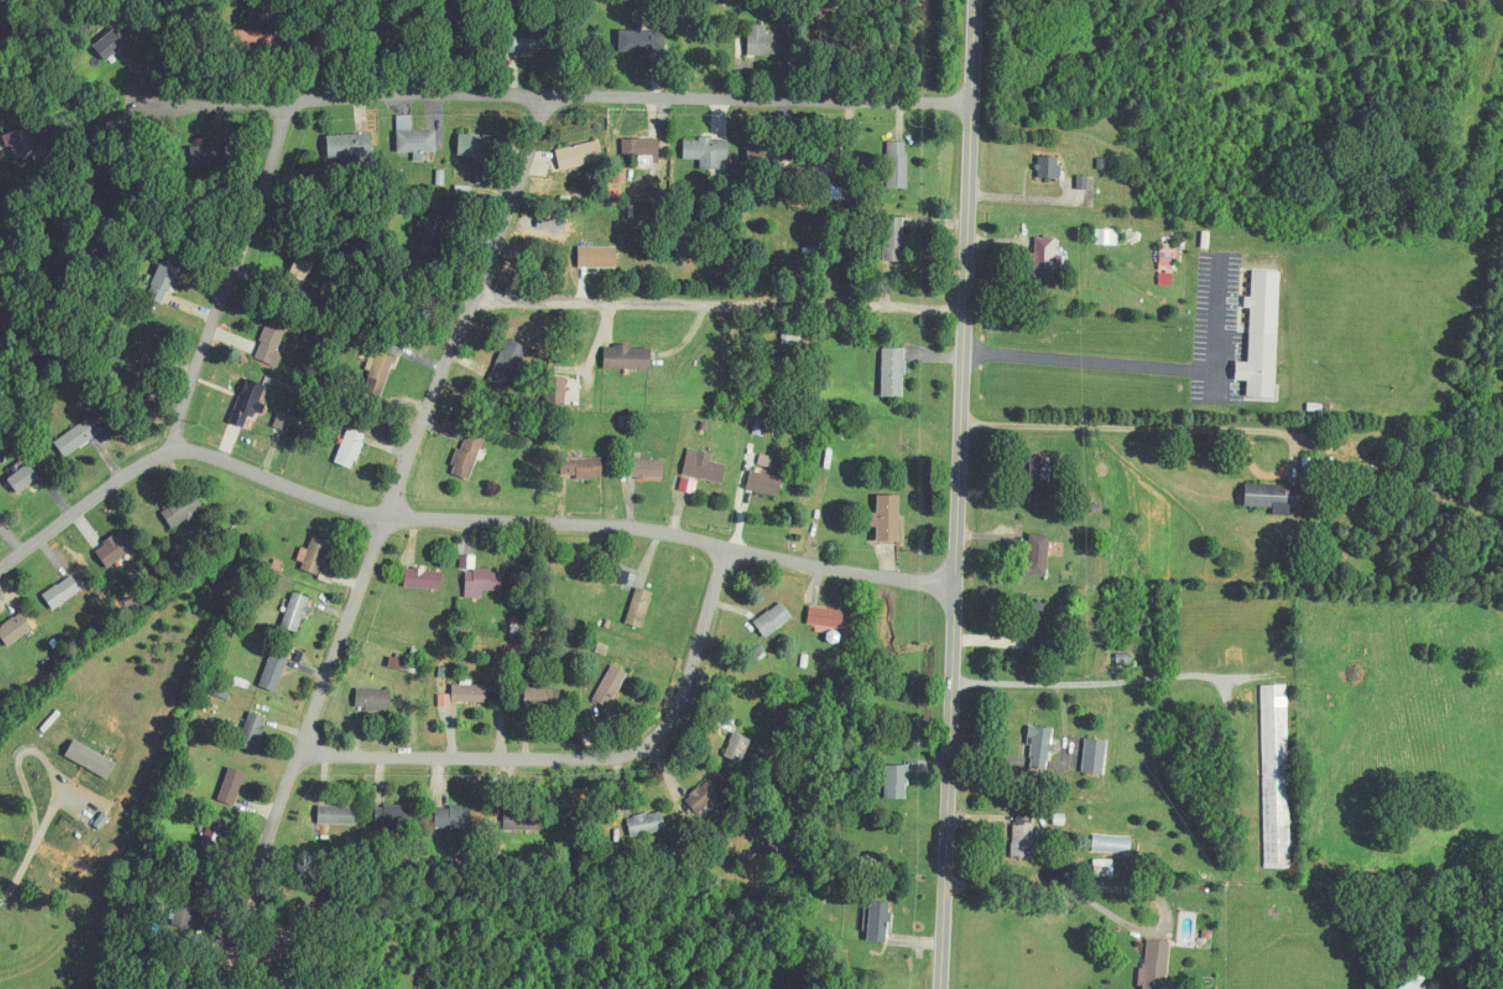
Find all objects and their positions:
building: (532, 38)
building: (642, 41)
building: (765, 41)
road: (556, 92)
road: (104, 128)
building: (417, 141)
building: (20, 143)
building: (351, 147)
building: (642, 150)
building: (707, 152)
building: (209, 154)
building: (483, 154)
building: (580, 155)
building: (897, 164)
building: (1049, 166)
building: (827, 171)
building: (620, 175)
building: (1106, 236)
building: (895, 239)
building: (597, 256)
building: (1047, 256)
building: (1169, 256)
building: (1166, 278)
building: (163, 282)
road: (718, 302)
road: (215, 322)
building: (1262, 336)
building: (273, 342)
building: (627, 357)
building: (507, 361)
road: (1141, 368)
building: (893, 372)
building: (380, 373)
building: (249, 403)
building: (284, 421)
building: (761, 426)
road: (1143, 426)
building: (76, 438)
building: (351, 448)
building: (467, 457)
building: (765, 461)
building: (704, 466)
building: (586, 467)
building: (646, 468)
building: (24, 478)
building: (1041, 479)
building: (764, 483)
building: (688, 485)
road: (955, 494)
building: (1274, 497)
building: (184, 509)
building: (888, 518)
road: (557, 523)
road: (383, 539)
building: (114, 549)
building: (1039, 555)
building: (314, 556)
building: (468, 561)
building: (327, 576)
building: (423, 579)
building: (483, 582)
building: (63, 592)
building: (640, 607)
building: (296, 612)
building: (825, 617)
building: (773, 620)
building: (1036, 627)
building: (15, 629)
building: (398, 663)
building: (274, 671)
road: (1103, 681)
building: (611, 685)
building: (469, 693)
building: (373, 699)
building: (445, 700)
building: (252, 731)
building: (1041, 746)
building: (738, 747)
road: (35, 749)
road: (583, 756)
building: (1095, 756)
building: (91, 759)
building: (896, 782)
building: (232, 786)
building: (704, 795)
building: (337, 815)
building: (394, 815)
building: (453, 817)
building: (647, 823)
building: (213, 837)
building: (1023, 841)
building: (1112, 844)
road: (21, 868)
road: (1117, 915)
building: (878, 921)
building: (1156, 964)

